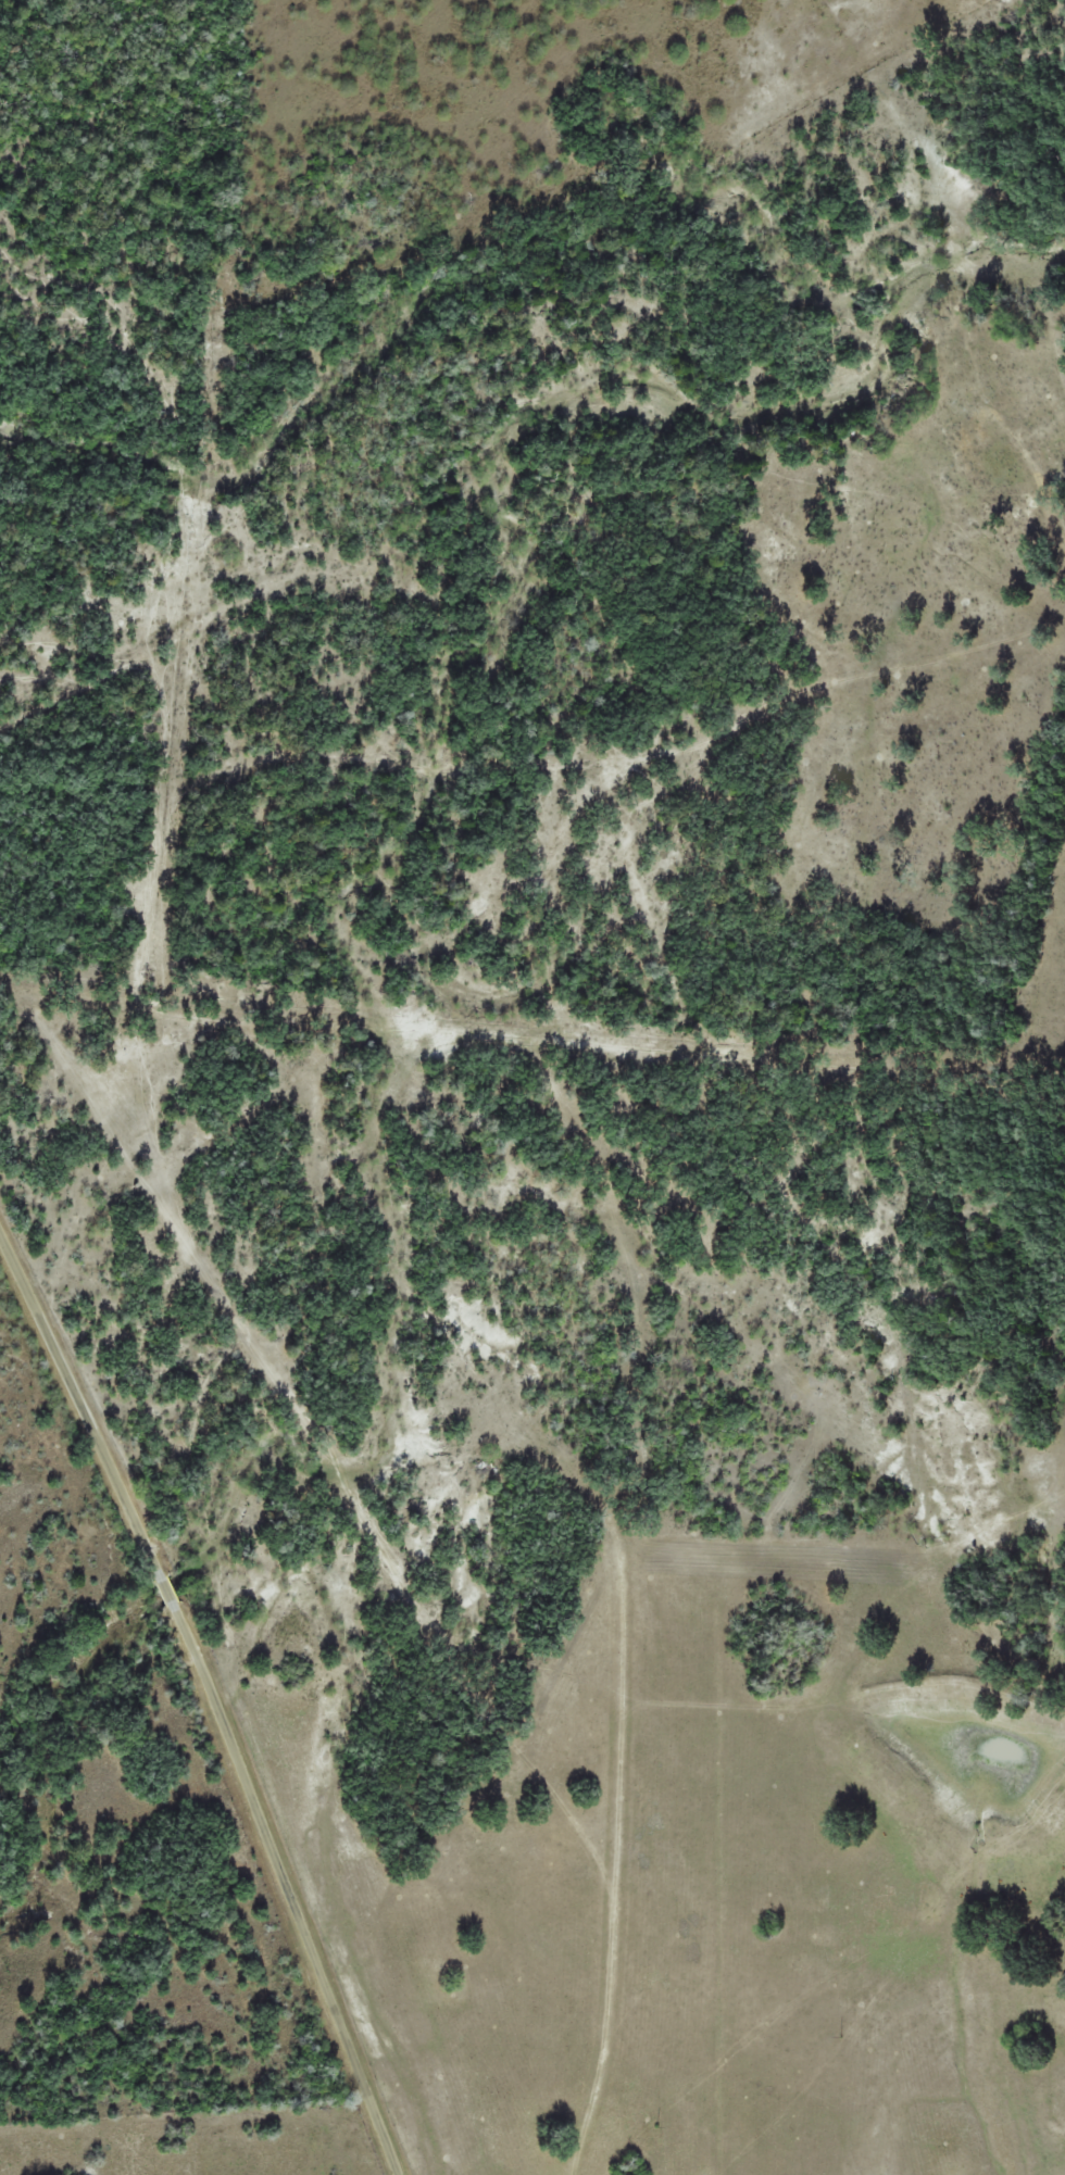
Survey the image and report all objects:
road: (217, 1687)

